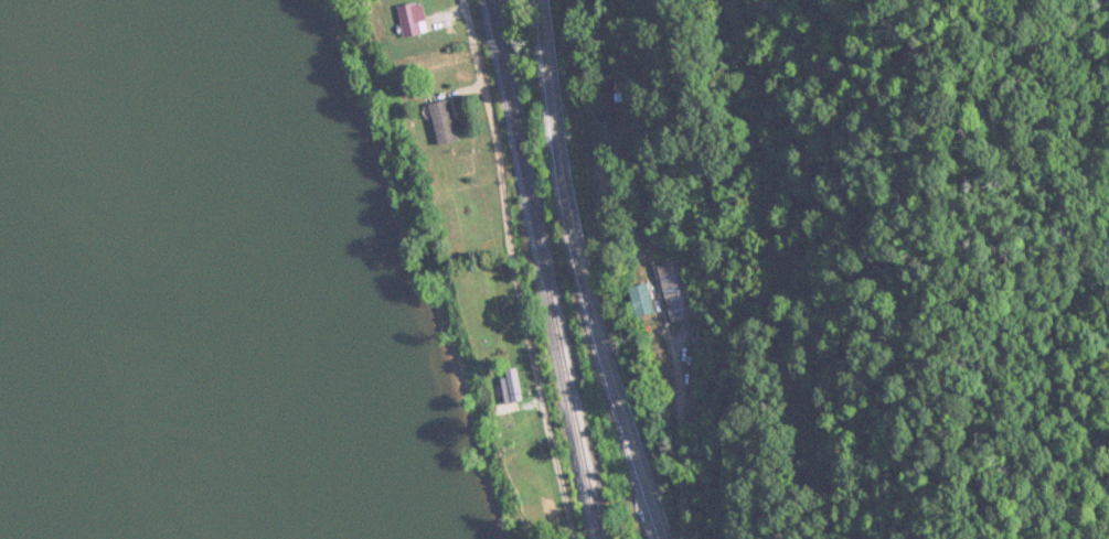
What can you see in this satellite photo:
building: (444, 121)
river: (158, 262)
railway: (546, 268)
road: (585, 273)
building: (640, 300)
building: (671, 303)

